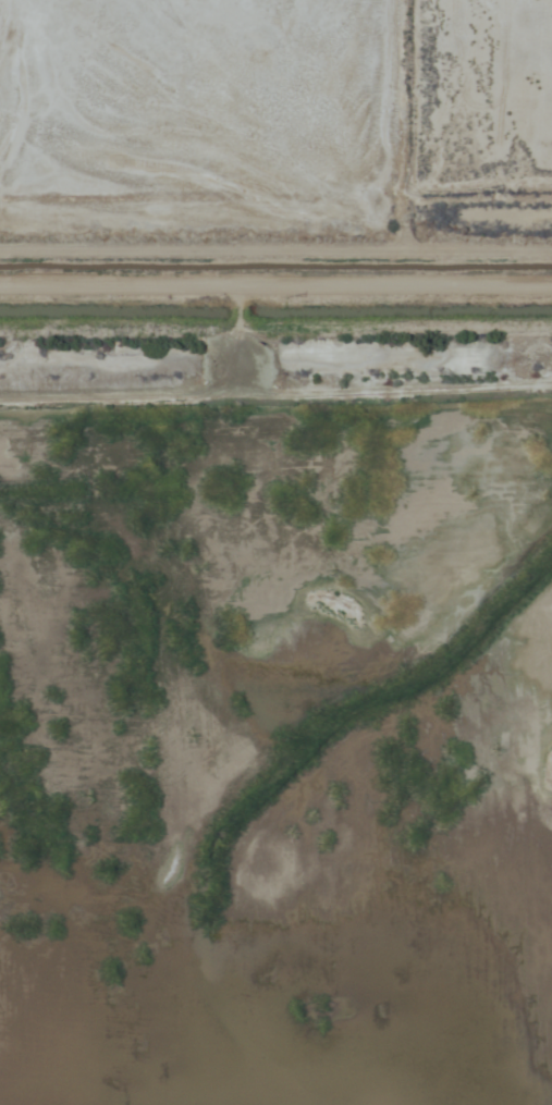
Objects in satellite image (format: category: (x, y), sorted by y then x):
road: (275, 283)
road: (236, 305)
parking lot: (241, 365)

